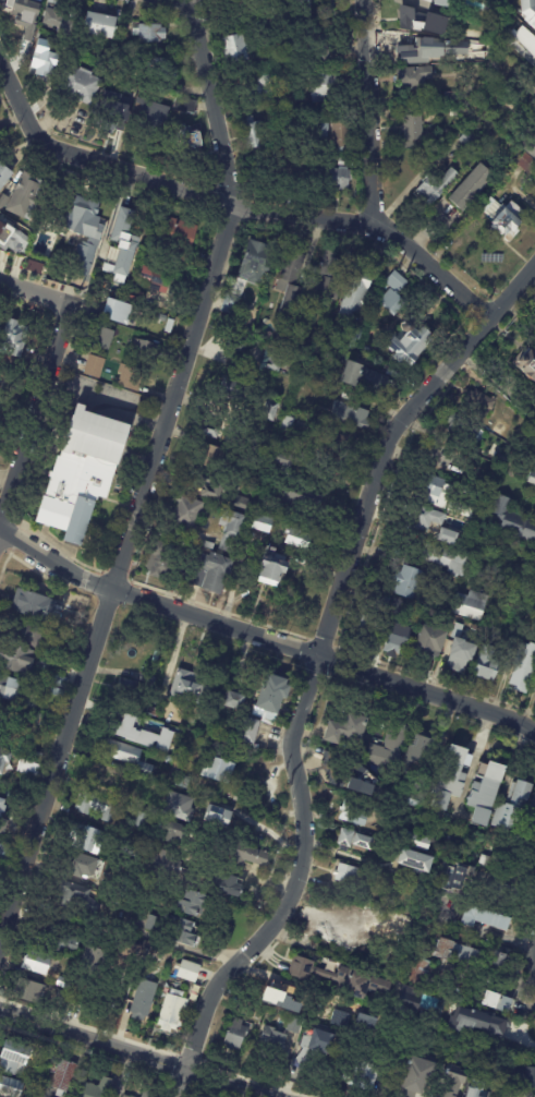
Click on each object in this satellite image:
road: (186, 1)
building: (441, 2)
building: (527, 11)
building: (31, 15)
building: (264, 16)
building: (421, 21)
building: (61, 23)
building: (105, 26)
building: (151, 34)
building: (521, 38)
building: (321, 41)
building: (414, 46)
building: (238, 50)
building: (449, 56)
building: (44, 60)
building: (153, 65)
building: (416, 79)
building: (83, 85)
building: (325, 87)
building: (264, 91)
building: (57, 103)
building: (186, 107)
road: (370, 111)
building: (534, 111)
building: (113, 112)
building: (153, 117)
building: (412, 130)
building: (320, 132)
building: (255, 133)
building: (341, 136)
building: (190, 140)
building: (473, 141)
building: (531, 144)
building: (346, 162)
building: (527, 164)
building: (4, 176)
building: (342, 179)
building: (435, 186)
building: (473, 188)
building: (26, 197)
building: (4, 202)
road: (232, 205)
building: (87, 219)
building: (507, 221)
building: (0, 226)
building: (182, 239)
building: (12, 241)
building: (124, 245)
building: (88, 253)
building: (258, 263)
building: (35, 268)
building: (156, 277)
building: (329, 277)
building: (293, 284)
building: (358, 289)
building: (397, 294)
road: (34, 297)
building: (138, 299)
building: (235, 299)
building: (115, 312)
building: (285, 325)
building: (354, 337)
building: (414, 339)
building: (283, 340)
building: (16, 341)
building: (108, 341)
building: (303, 345)
building: (239, 347)
building: (144, 350)
building: (368, 351)
building: (332, 353)
building: (283, 363)
building: (524, 363)
building: (96, 369)
building: (131, 378)
building: (363, 378)
building: (320, 387)
building: (234, 394)
road: (108, 398)
building: (478, 402)
building: (272, 412)
building: (352, 415)
building: (305, 424)
building: (289, 425)
building: (460, 426)
road: (35, 429)
building: (500, 429)
building: (211, 431)
building: (336, 446)
building: (433, 454)
building: (214, 455)
building: (497, 455)
building: (281, 460)
road: (149, 472)
building: (84, 477)
building: (531, 478)
building: (427, 484)
building: (534, 487)
building: (215, 493)
building: (264, 501)
building: (244, 503)
building: (303, 504)
building: (467, 509)
building: (189, 514)
building: (425, 519)
building: (509, 519)
building: (265, 526)
building: (233, 532)
building: (447, 538)
building: (302, 543)
building: (209, 546)
building: (441, 558)
building: (158, 560)
building: (273, 570)
building: (215, 574)
building: (402, 581)
building: (377, 600)
building: (465, 604)
building: (38, 605)
building: (398, 613)
building: (363, 627)
building: (32, 634)
road: (264, 639)
building: (428, 640)
building: (390, 642)
building: (453, 650)
building: (17, 658)
building: (482, 663)
building: (520, 665)
road: (319, 672)
building: (62, 682)
building: (187, 686)
building: (129, 689)
building: (19, 690)
building: (59, 692)
building: (534, 692)
building: (272, 695)
building: (238, 700)
building: (0, 708)
building: (154, 712)
building: (1, 718)
building: (45, 721)
building: (348, 727)
building: (161, 730)
building: (250, 730)
building: (142, 734)
building: (392, 748)
building: (423, 749)
building: (131, 757)
building: (5, 760)
building: (19, 760)
building: (170, 760)
building: (31, 769)
building: (219, 769)
building: (177, 770)
building: (338, 770)
building: (457, 777)
building: (109, 779)
building: (362, 779)
building: (484, 792)
building: (171, 797)
building: (141, 803)
building: (100, 807)
building: (534, 809)
building: (355, 815)
building: (219, 816)
building: (144, 820)
building: (196, 821)
building: (4, 825)
building: (171, 831)
road: (270, 831)
building: (345, 839)
building: (89, 840)
building: (416, 840)
building: (363, 842)
building: (5, 852)
building: (247, 854)
building: (415, 860)
building: (163, 861)
building: (82, 866)
building: (350, 875)
building: (455, 878)
road: (266, 879)
building: (228, 885)
building: (402, 888)
building: (74, 897)
building: (193, 904)
building: (490, 919)
building: (156, 924)
building: (182, 930)
building: (51, 937)
road: (507, 937)
building: (470, 954)
building: (129, 955)
building: (95, 960)
building: (38, 963)
building: (189, 971)
building: (421, 971)
building: (344, 979)
building: (65, 983)
building: (33, 991)
building: (405, 996)
building: (63, 998)
building: (282, 999)
building: (331, 1001)
building: (501, 1002)
building: (144, 1003)
building: (173, 1013)
building: (477, 1022)
building: (296, 1025)
building: (236, 1034)
building: (271, 1042)
building: (316, 1045)
road: (137, 1052)
building: (15, 1059)
building: (364, 1076)
building: (65, 1077)
building: (422, 1077)
building: (526, 1077)
building: (453, 1082)
building: (11, 1087)
building: (98, 1089)
building: (474, 1092)
building: (511, 1093)
building: (150, 1094)
building: (126, 1096)

